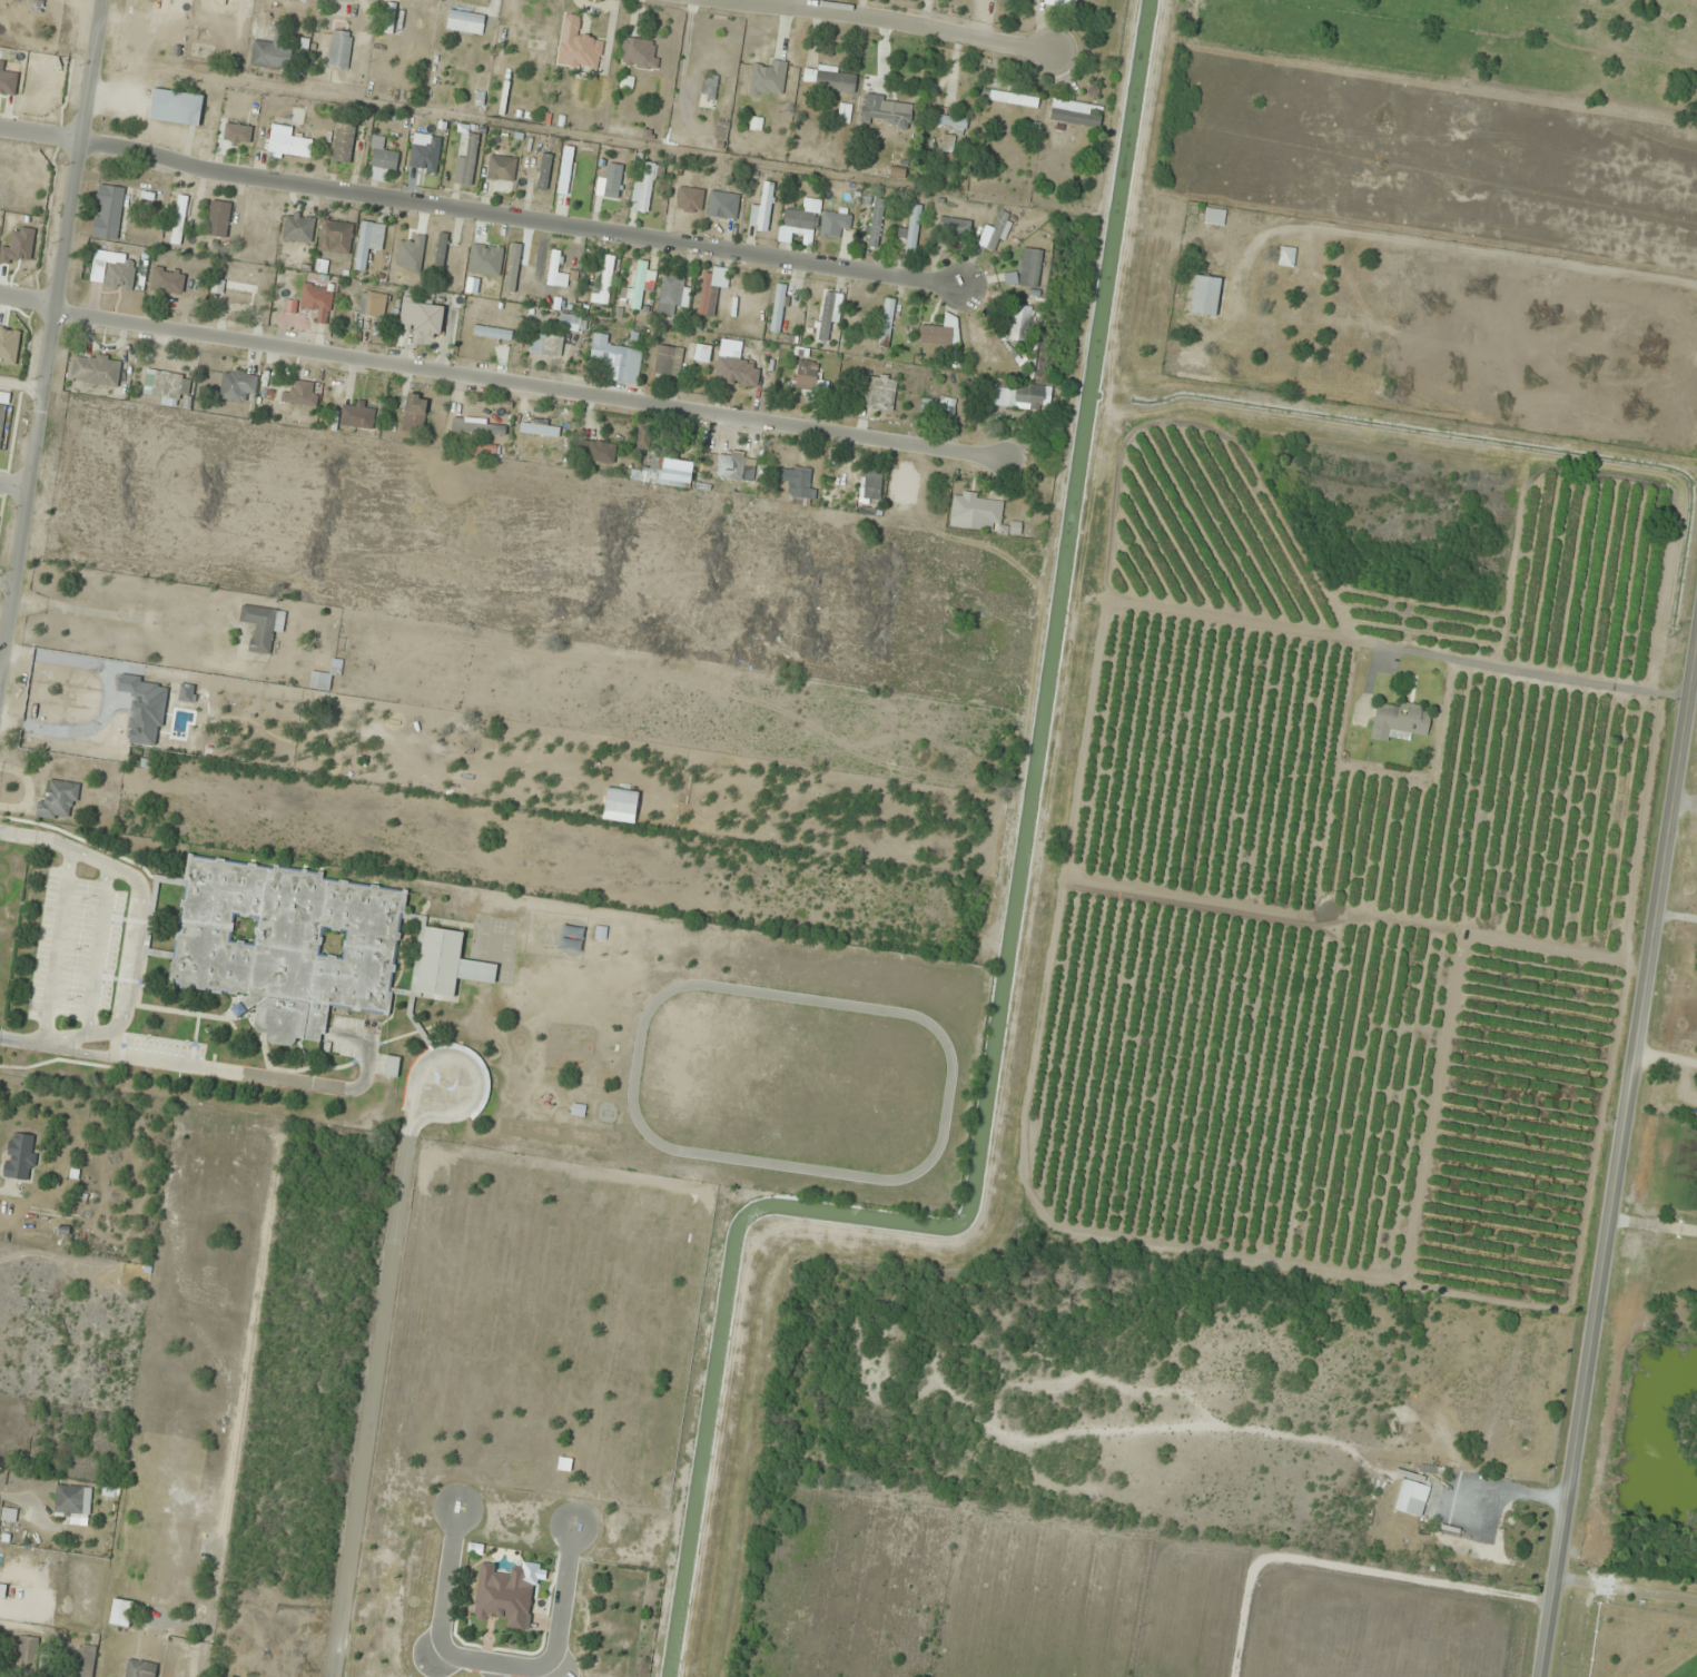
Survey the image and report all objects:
building: (1059, 2)
building: (389, 18)
road: (881, 20)
building: (465, 22)
building: (578, 46)
building: (339, 49)
building: (640, 53)
building: (272, 55)
building: (1668, 56)
building: (829, 78)
building: (769, 79)
building: (710, 87)
building: (1014, 99)
building: (176, 107)
building: (887, 111)
building: (1075, 118)
building: (949, 121)
building: (721, 130)
road: (41, 137)
building: (288, 142)
building: (344, 144)
building: (426, 157)
building: (381, 160)
building: (466, 164)
building: (501, 169)
building: (544, 171)
building: (645, 187)
building: (694, 195)
building: (722, 205)
building: (762, 210)
building: (108, 211)
building: (1214, 217)
building: (219, 219)
building: (179, 220)
road: (522, 221)
building: (799, 223)
building: (835, 224)
building: (876, 224)
building: (954, 227)
building: (298, 228)
building: (909, 233)
building: (996, 233)
building: (337, 238)
building: (368, 243)
building: (441, 249)
building: (1286, 257)
building: (553, 268)
building: (1026, 270)
building: (119, 274)
building: (168, 280)
building: (606, 280)
building: (641, 284)
building: (245, 285)
building: (670, 295)
building: (708, 295)
building: (1204, 297)
road: (29, 299)
building: (317, 303)
building: (373, 305)
building: (778, 308)
building: (423, 317)
building: (887, 323)
building: (1019, 324)
building: (941, 333)
road: (52, 338)
building: (545, 346)
building: (702, 354)
building: (616, 359)
building: (664, 361)
building: (95, 369)
building: (737, 372)
building: (809, 377)
road: (21, 386)
building: (167, 386)
building: (238, 386)
road: (532, 392)
building: (878, 393)
building: (303, 394)
building: (1, 396)
building: (1018, 396)
building: (938, 408)
building: (415, 413)
building: (357, 415)
building: (2, 421)
building: (478, 427)
building: (540, 428)
building: (643, 437)
building: (483, 450)
building: (598, 453)
building: (736, 468)
building: (665, 472)
building: (800, 485)
building: (870, 485)
road: (12, 487)
building: (979, 514)
road: (7, 583)
building: (262, 625)
building: (319, 682)
building: (82, 701)
building: (1400, 721)
building: (56, 737)
building: (59, 799)
building: (297, 944)
road: (468, 1062)
building: (392, 1066)
building: (579, 1109)
building: (21, 1156)
road: (1622, 1198)
road: (369, 1403)
building: (1417, 1500)
building: (73, 1501)
building: (2, 1592)
building: (507, 1595)
building: (121, 1612)
building: (27, 1654)
building: (87, 1661)
building: (140, 1669)

